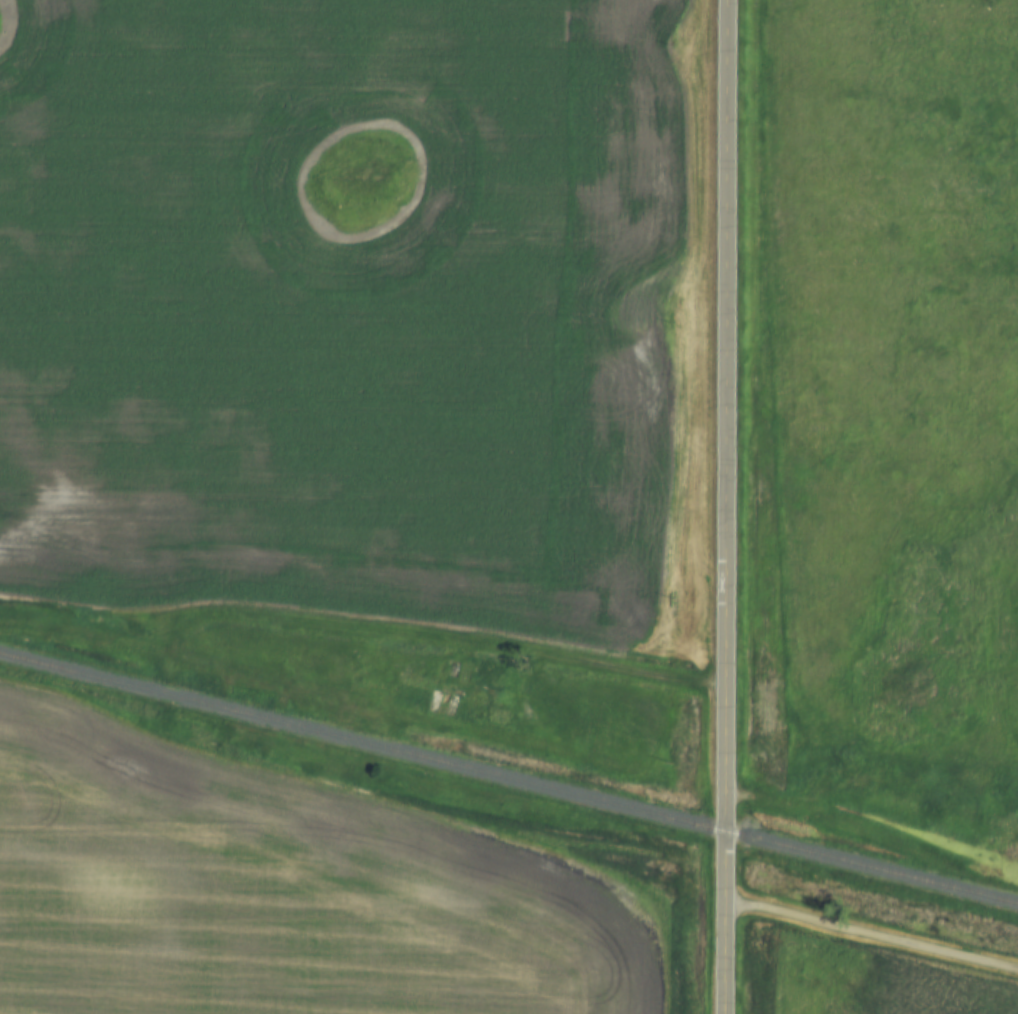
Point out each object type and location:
road: (730, 507)
railway: (508, 779)
road: (871, 931)

